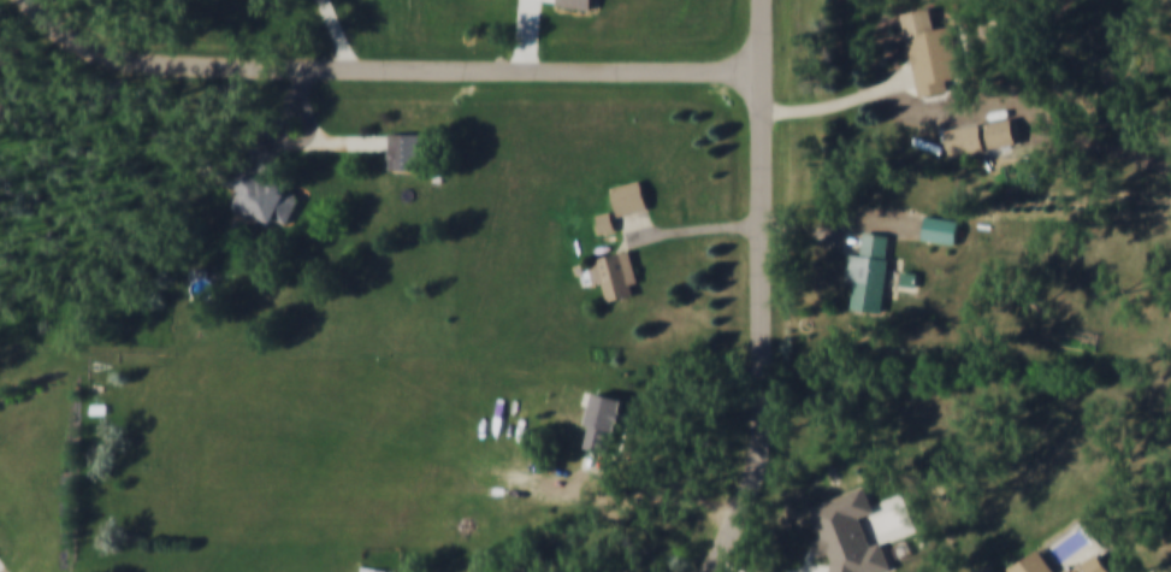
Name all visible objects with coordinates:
building: (575, 5)
road: (336, 35)
road: (528, 35)
building: (930, 53)
road: (389, 70)
road: (841, 101)
road: (311, 119)
road: (283, 122)
building: (1003, 136)
building: (966, 141)
road: (331, 143)
building: (404, 154)
building: (264, 196)
building: (631, 201)
road: (882, 224)
building: (607, 225)
road: (690, 230)
building: (942, 231)
road: (816, 232)
building: (871, 273)
building: (620, 276)
road: (765, 290)
building: (604, 426)
road: (76, 494)
road: (645, 499)
building: (848, 535)
building: (1036, 566)
building: (1095, 566)
building: (368, 571)

